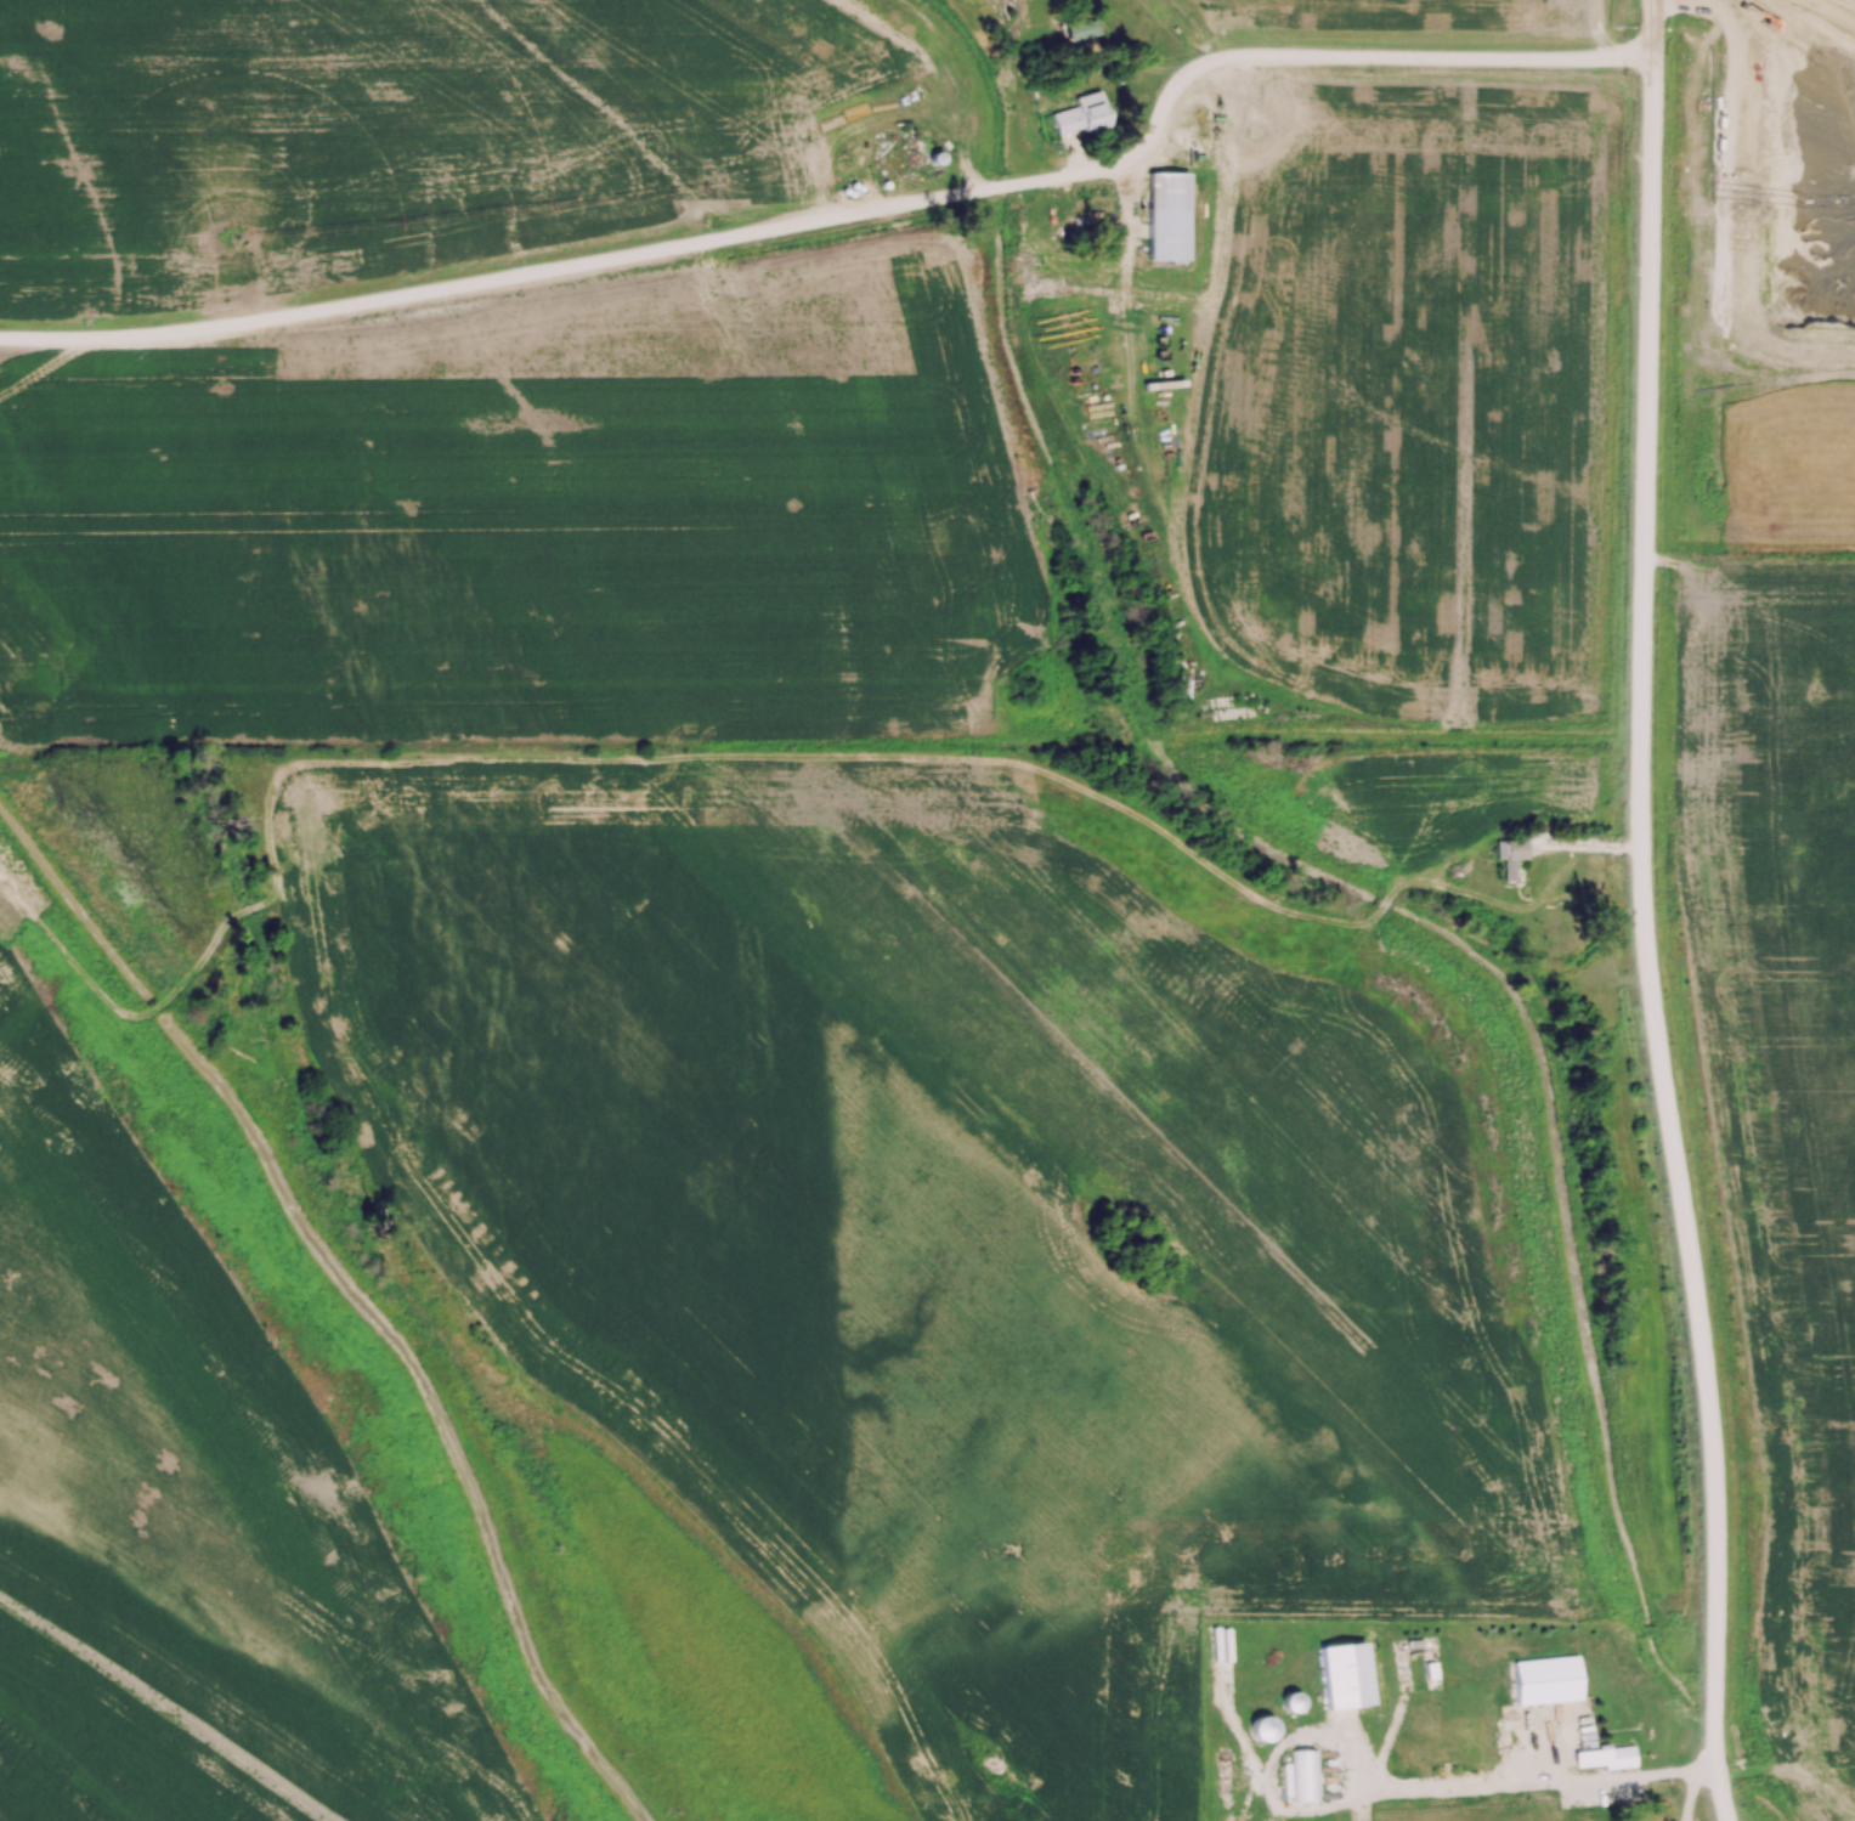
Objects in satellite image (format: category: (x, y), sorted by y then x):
road: (846, 214)
road: (1636, 912)
road: (1397, 1786)

